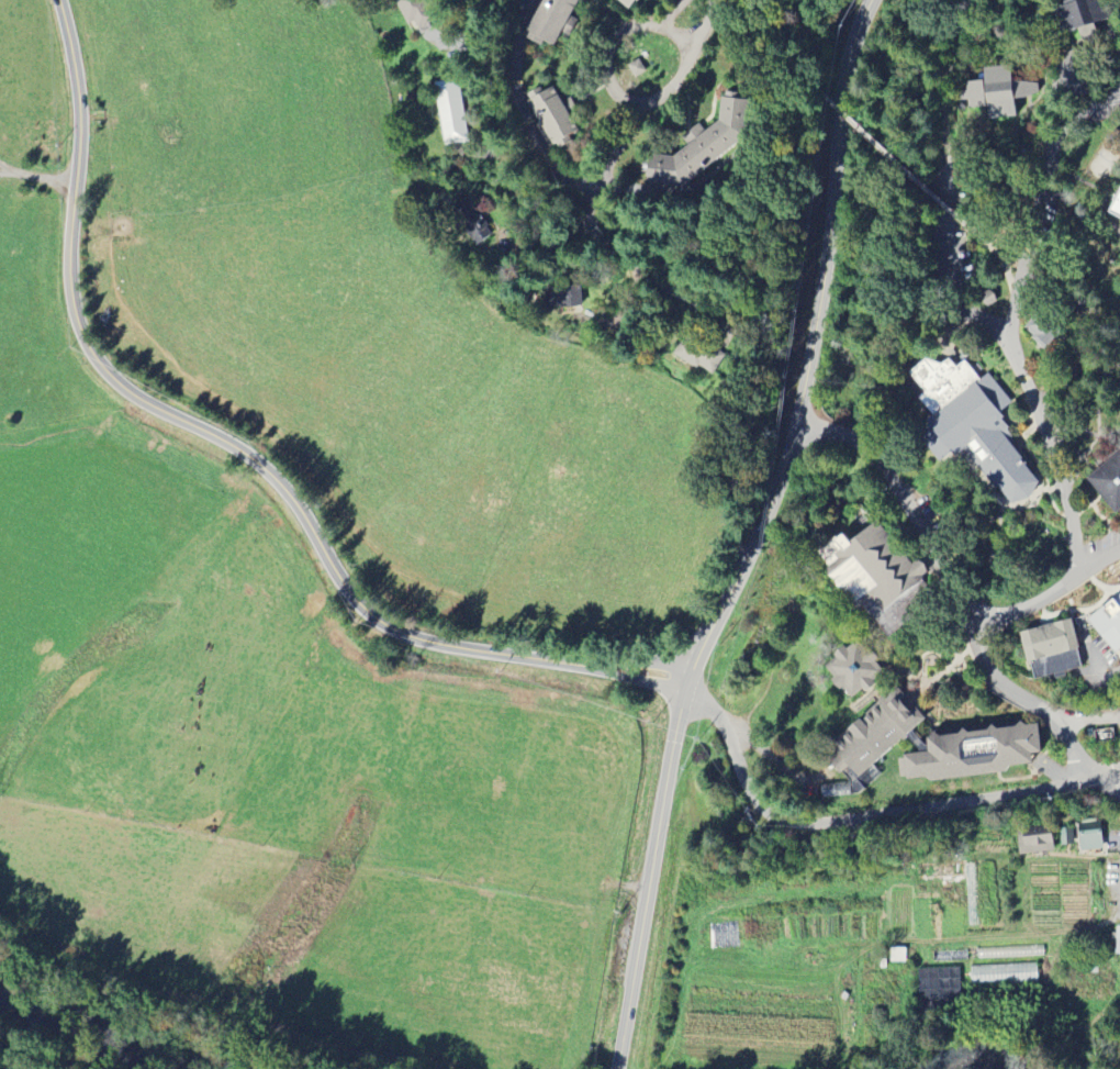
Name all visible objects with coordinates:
building: (626, 2)
building: (414, 12)
building: (1077, 18)
building: (548, 20)
road: (779, 36)
building: (637, 68)
building: (1074, 76)
crop: (32, 86)
road: (772, 87)
building: (998, 91)
road: (624, 97)
road: (523, 111)
building: (450, 112)
building: (552, 115)
building: (699, 146)
road: (881, 149)
road: (945, 170)
road: (37, 175)
building: (1116, 205)
building: (472, 224)
road: (600, 244)
road: (999, 256)
building: (563, 296)
crop: (34, 319)
building: (1045, 325)
crop: (377, 326)
road: (1011, 344)
building: (694, 353)
building: (974, 425)
road: (240, 448)
building: (1107, 481)
road: (754, 537)
road: (931, 549)
building: (876, 580)
building: (1109, 624)
building: (1050, 649)
parking lot: (1099, 659)
building: (852, 668)
road: (1028, 695)
parking lot: (1098, 715)
road: (1088, 716)
building: (874, 733)
building: (972, 751)
crop: (283, 777)
road: (1111, 780)
building: (850, 784)
road: (866, 819)
building: (1088, 829)
building: (1064, 834)
building: (1033, 838)
crop: (986, 839)
crop: (886, 869)
crop: (1040, 870)
crop: (1069, 876)
park: (1094, 888)
crop: (982, 893)
crop: (1013, 893)
crop: (795, 897)
crop: (928, 898)
crop: (1071, 911)
crop: (796, 927)
building: (1117, 942)
parking lot: (626, 944)
building: (1010, 950)
building: (897, 954)
building: (951, 954)
building: (882, 964)
building: (1089, 966)
building: (1004, 972)
crop: (950, 975)
building: (939, 983)
crop: (1085, 1001)
road: (141, 1002)
crop: (763, 1010)
crop: (874, 1010)
road: (996, 1016)
road: (595, 1023)
river: (90, 1029)
river: (981, 1057)

